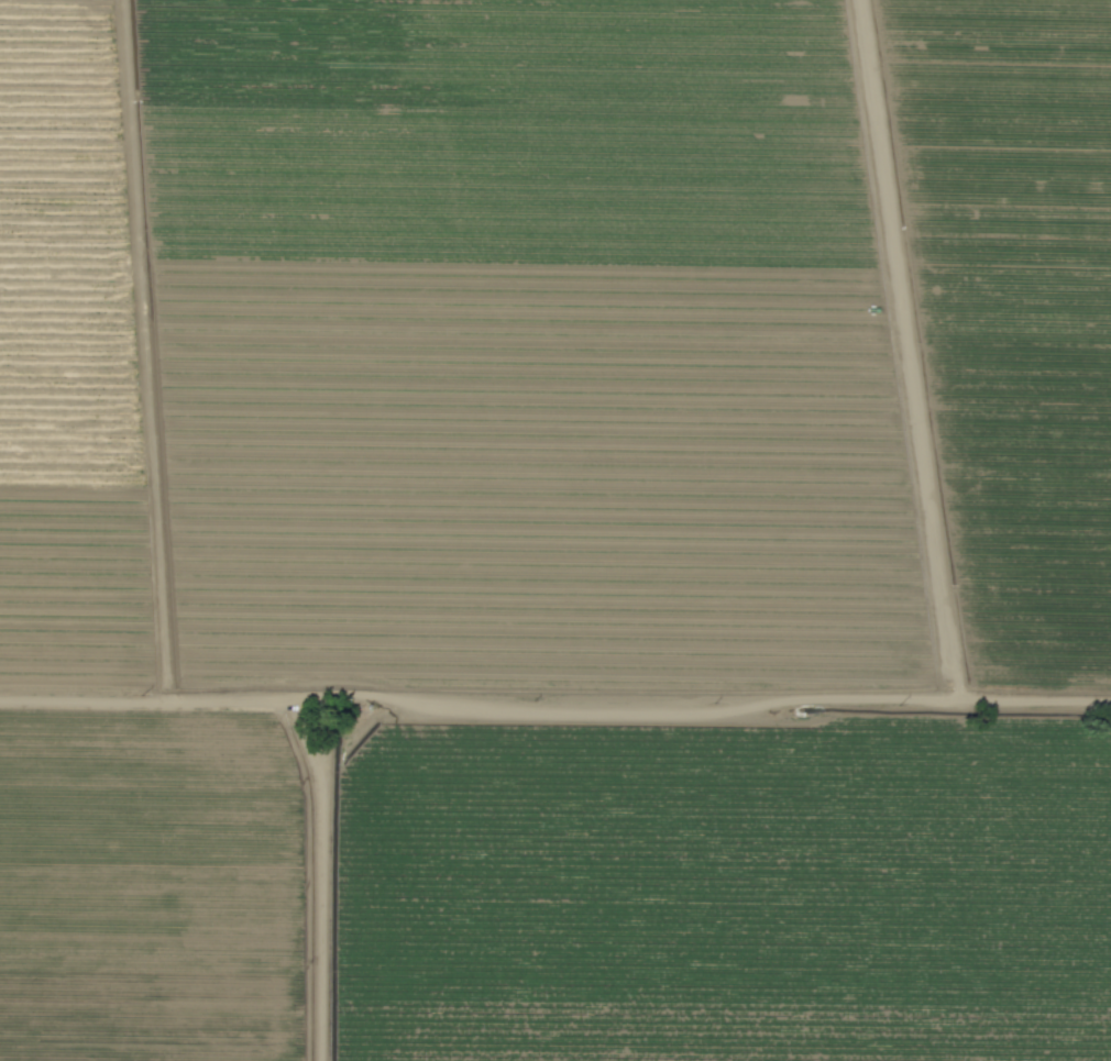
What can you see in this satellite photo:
road: (554, 708)

